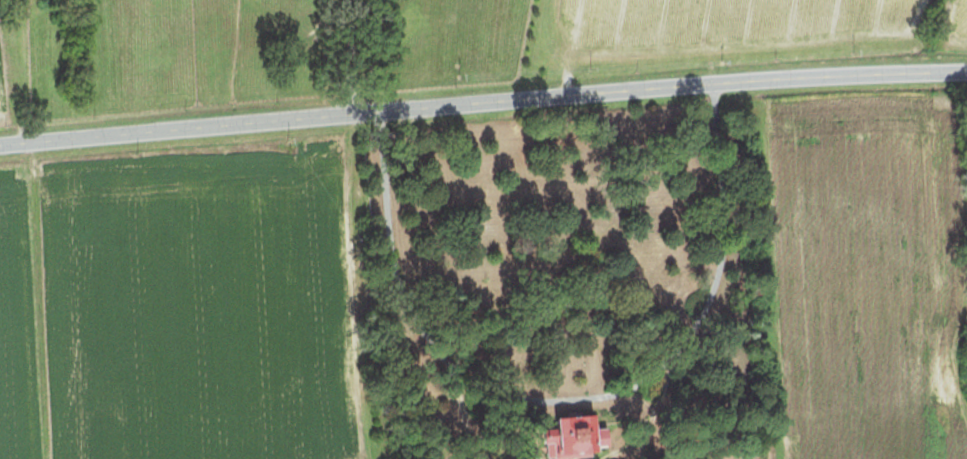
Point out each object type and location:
road: (354, 54)
road: (482, 97)
road: (41, 299)
road: (569, 396)
building: (585, 433)

